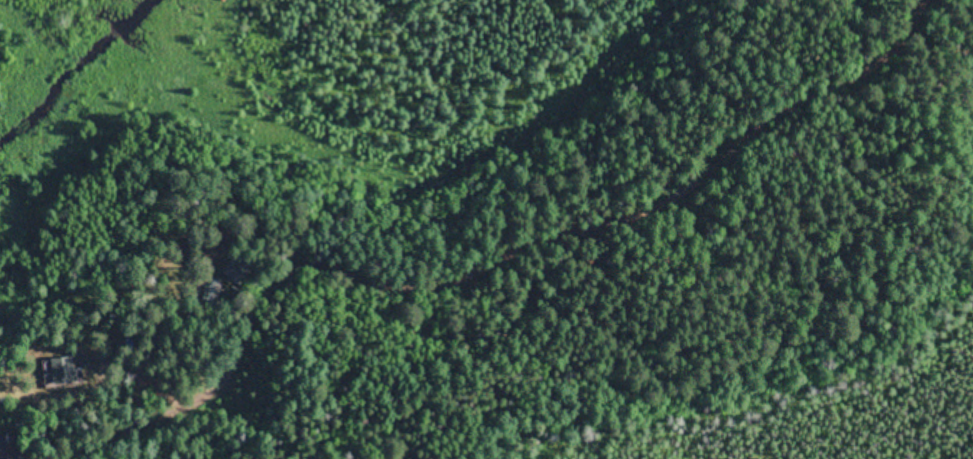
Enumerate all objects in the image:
road: (579, 234)
building: (56, 371)
building: (5, 448)

